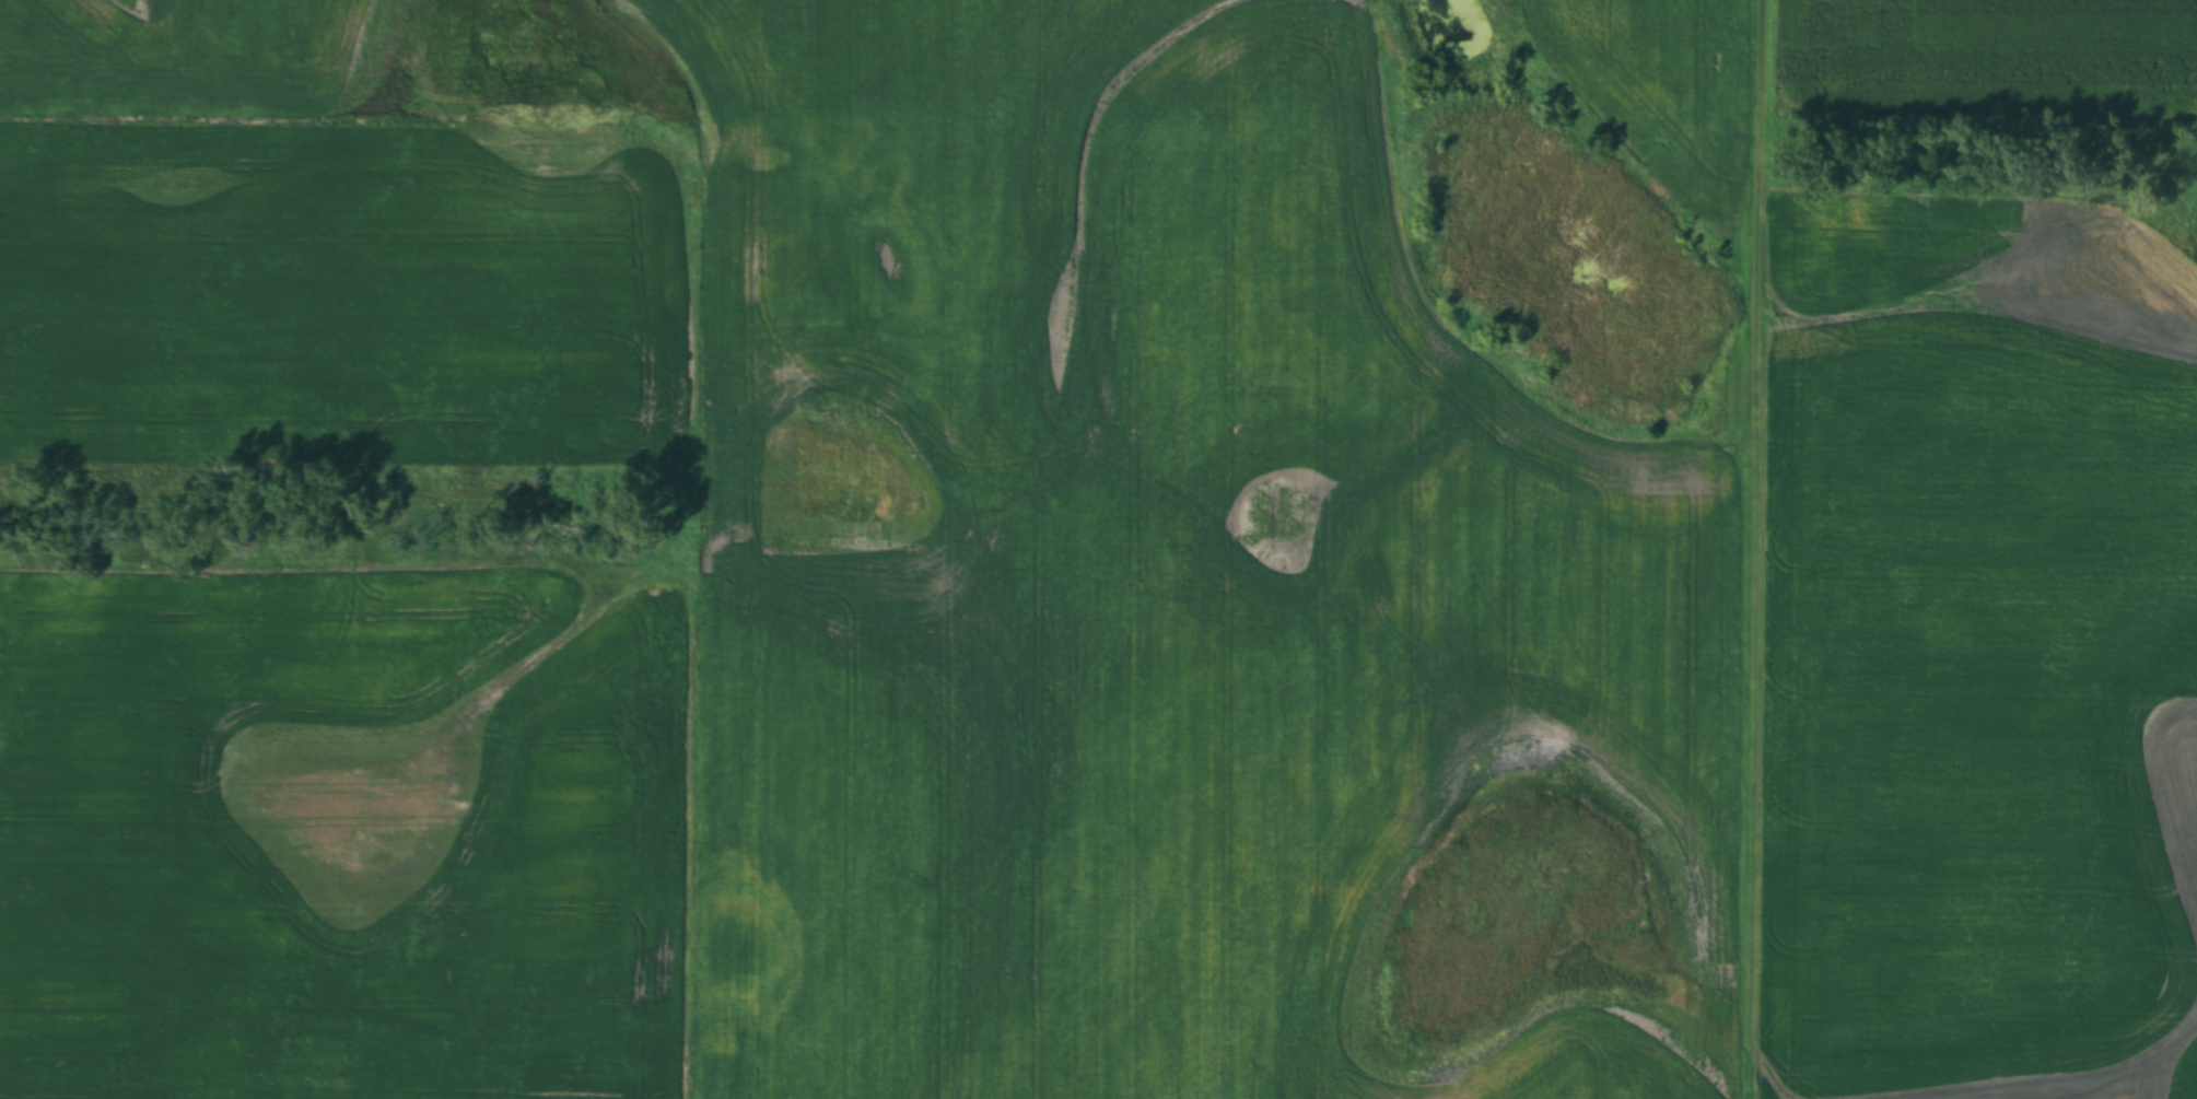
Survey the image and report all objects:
road: (1754, 549)

